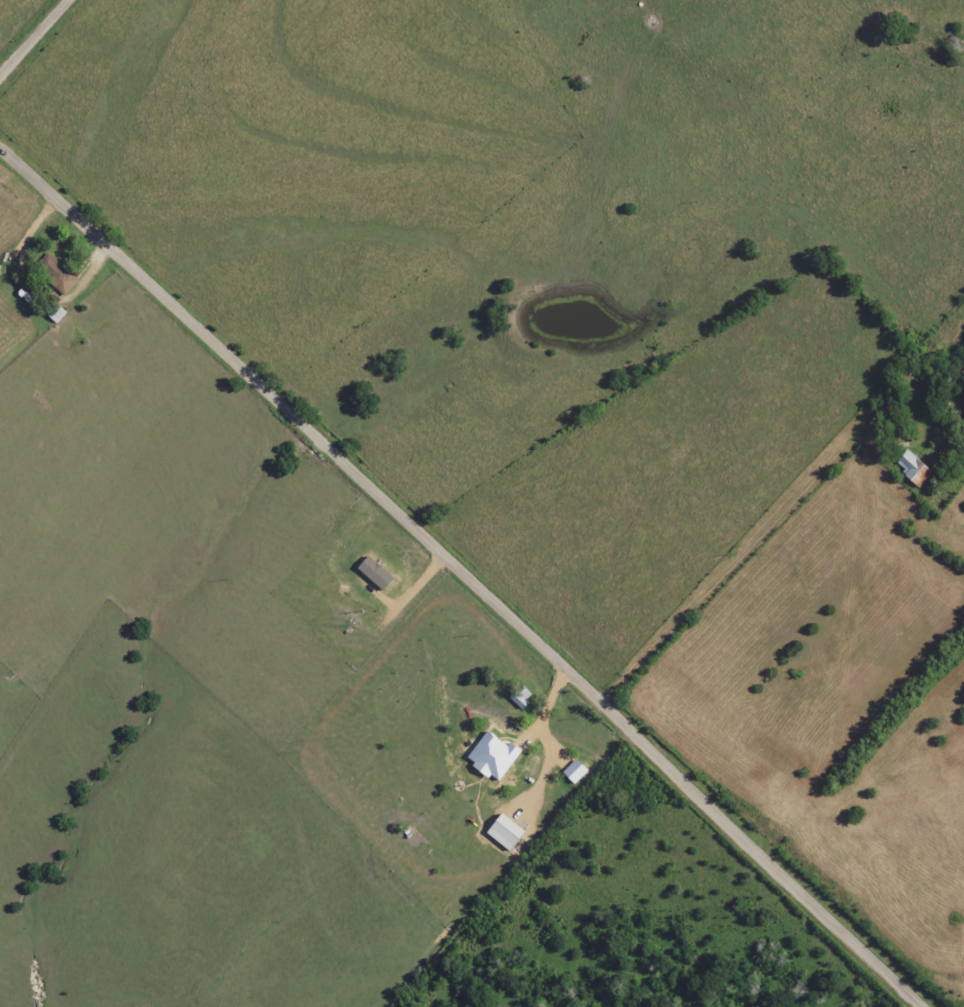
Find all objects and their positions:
road: (35, 39)
building: (59, 277)
building: (56, 314)
building: (914, 470)
building: (375, 573)
road: (717, 573)
road: (460, 579)
building: (493, 757)
building: (575, 772)
building: (505, 832)

